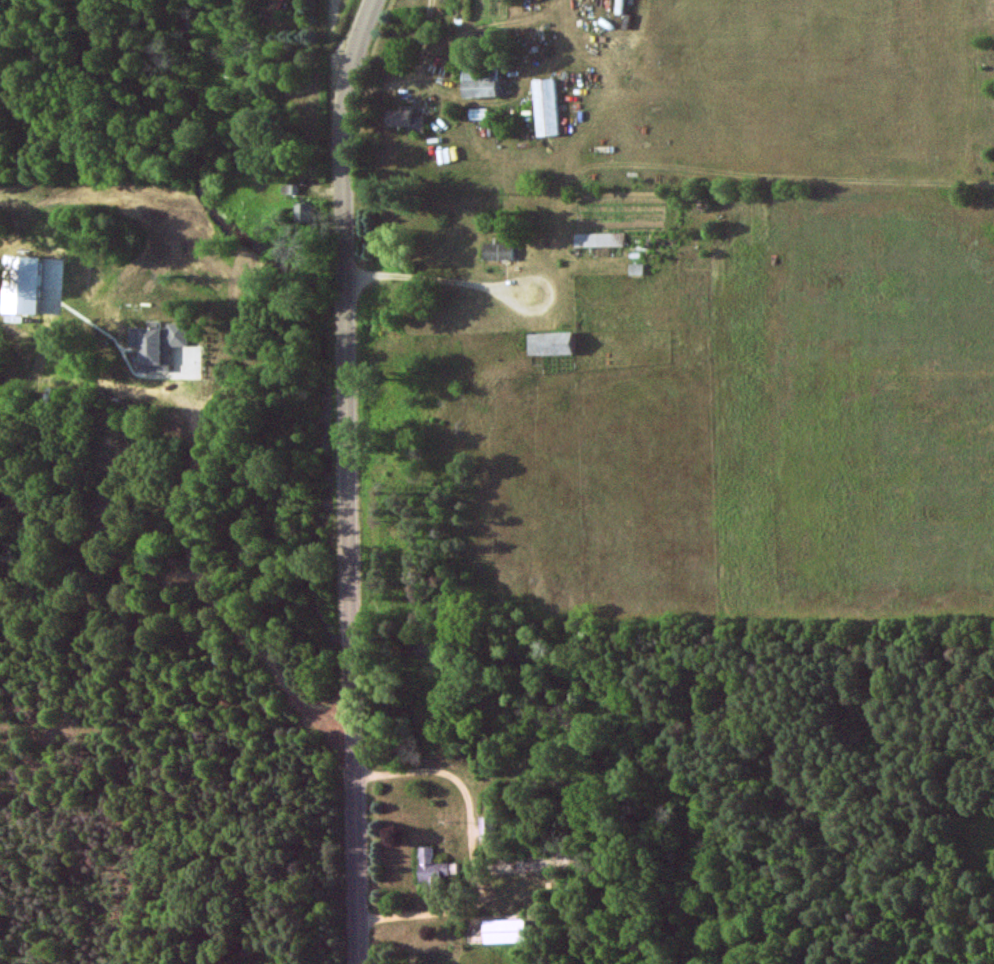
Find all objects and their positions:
road: (357, 63)
road: (341, 64)
building: (481, 82)
building: (548, 107)
building: (407, 119)
building: (305, 212)
building: (601, 239)
building: (499, 251)
road: (484, 279)
building: (20, 285)
building: (552, 344)
building: (156, 345)
road: (349, 546)
road: (208, 582)
road: (473, 851)
building: (435, 865)
building: (504, 931)

